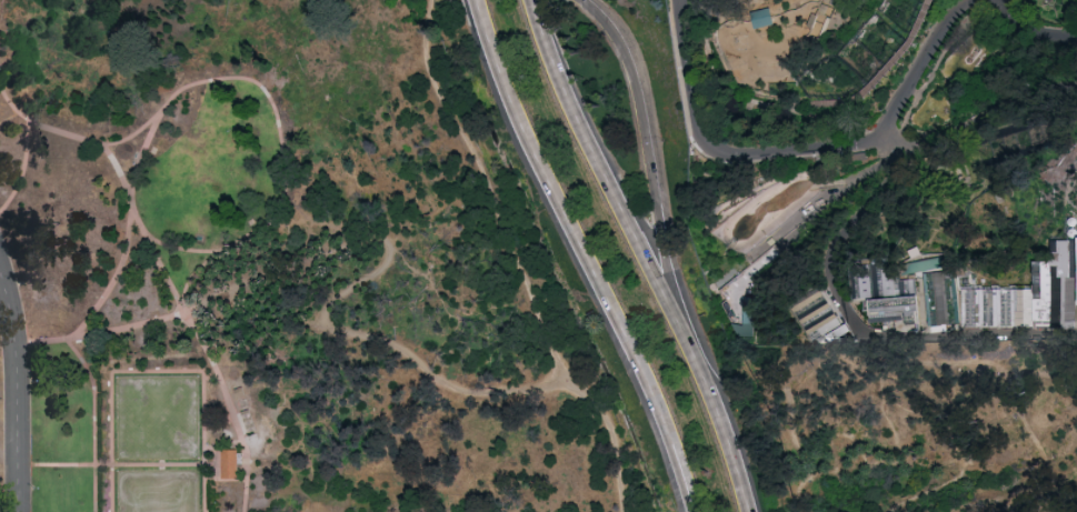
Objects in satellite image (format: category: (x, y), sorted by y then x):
road: (453, 9)
building: (765, 17)
road: (1029, 32)
road: (887, 70)
road: (911, 76)
road: (768, 90)
road: (808, 102)
road: (11, 107)
road: (279, 142)
road: (707, 144)
road: (861, 151)
road: (142, 157)
building: (855, 157)
road: (927, 157)
road: (22, 172)
road: (655, 191)
road: (616, 199)
road: (809, 222)
park: (538, 255)
road: (588, 255)
road: (518, 260)
road: (195, 275)
building: (878, 281)
road: (172, 292)
building: (937, 297)
building: (1014, 300)
road: (333, 303)
building: (894, 309)
road: (97, 310)
building: (748, 310)
road: (133, 325)
road: (207, 355)
road: (868, 358)
road: (158, 373)
road: (212, 380)
road: (19, 392)
park: (158, 418)
road: (93, 423)
road: (239, 432)
road: (732, 452)
building: (229, 464)
road: (1009, 465)
road: (111, 468)
park: (158, 491)
road: (1043, 495)

